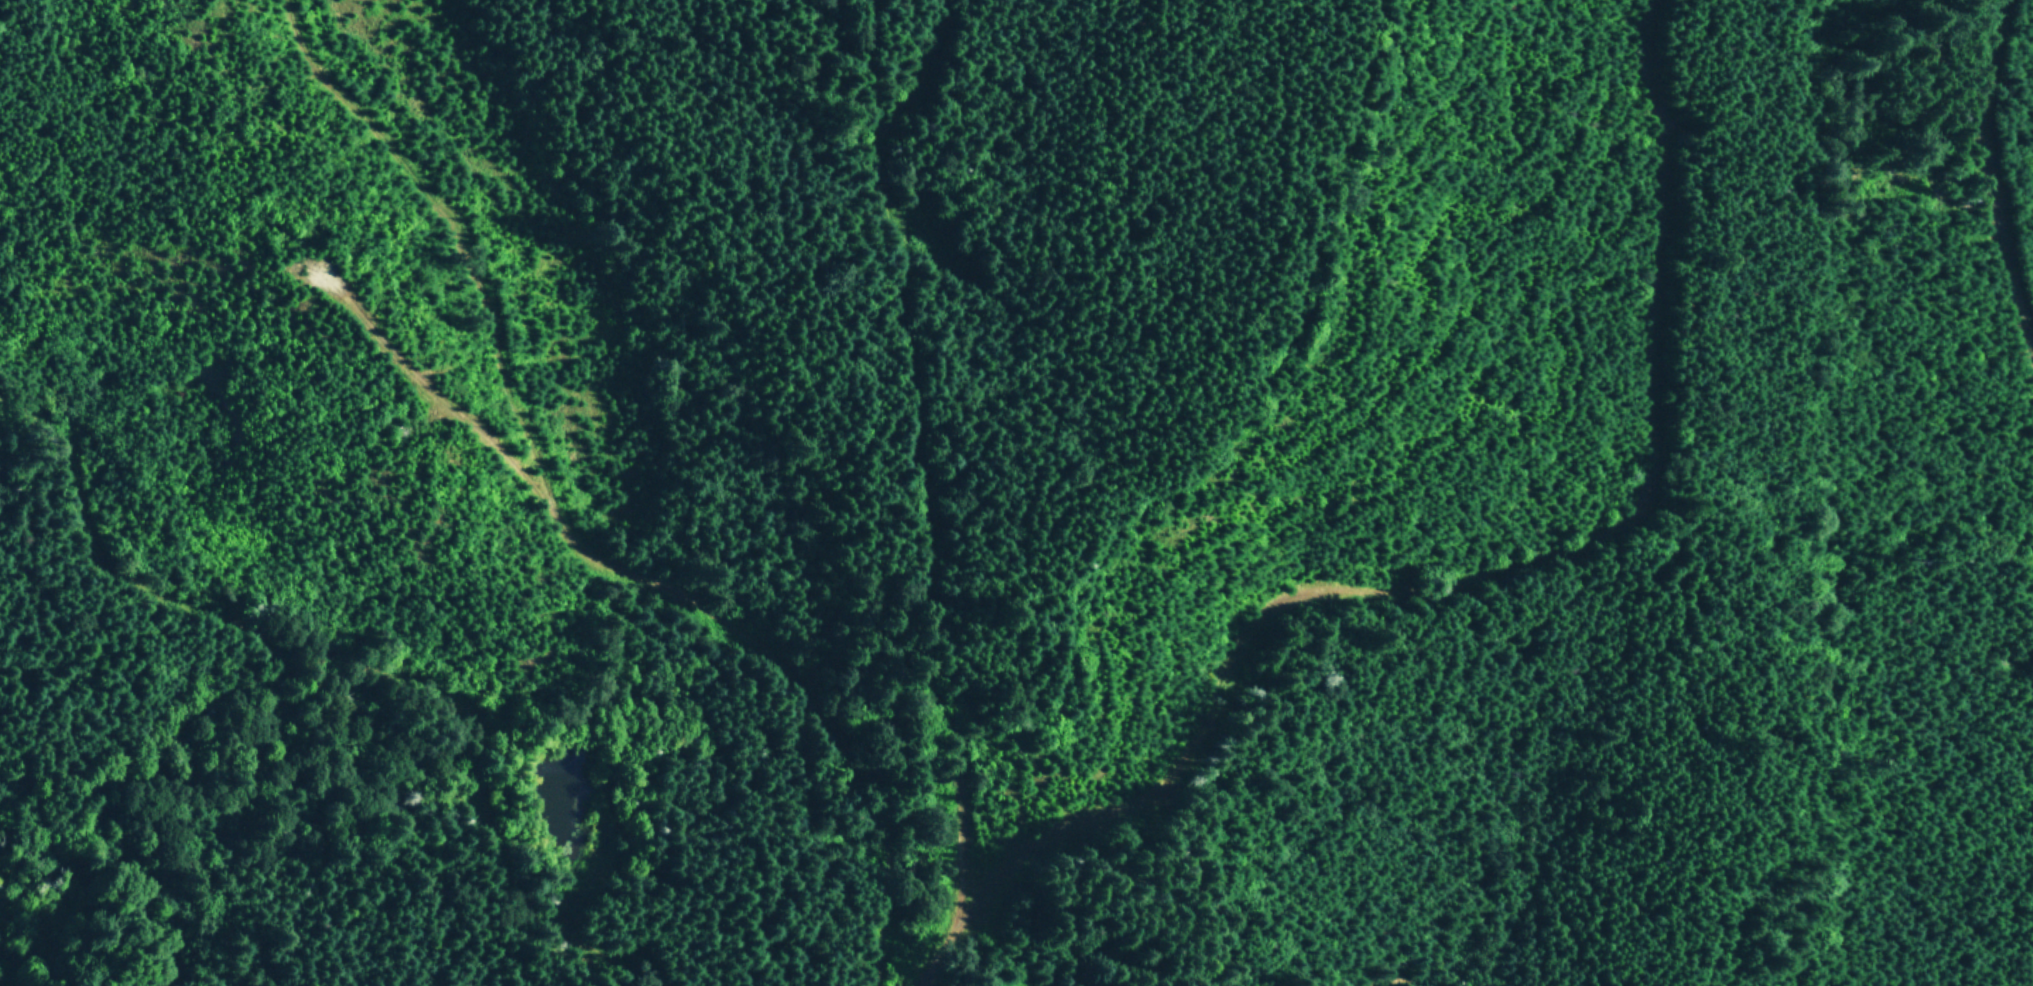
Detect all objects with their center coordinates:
road: (565, 531)
road: (350, 661)
road: (1403, 982)

